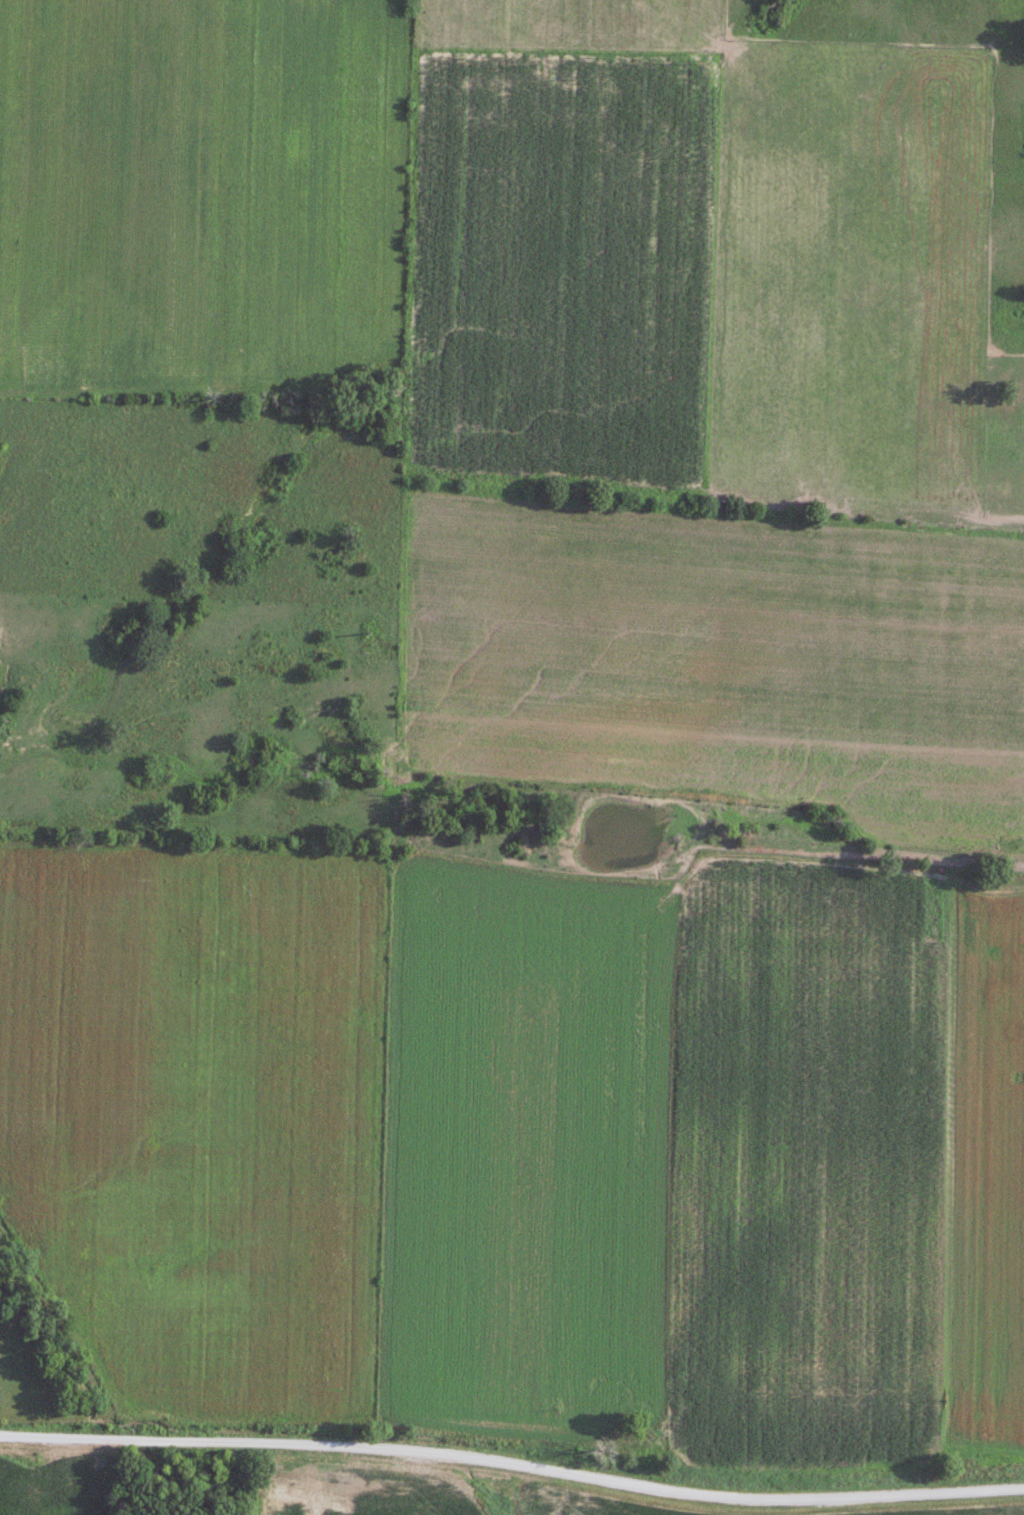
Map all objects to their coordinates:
road: (512, 1463)

